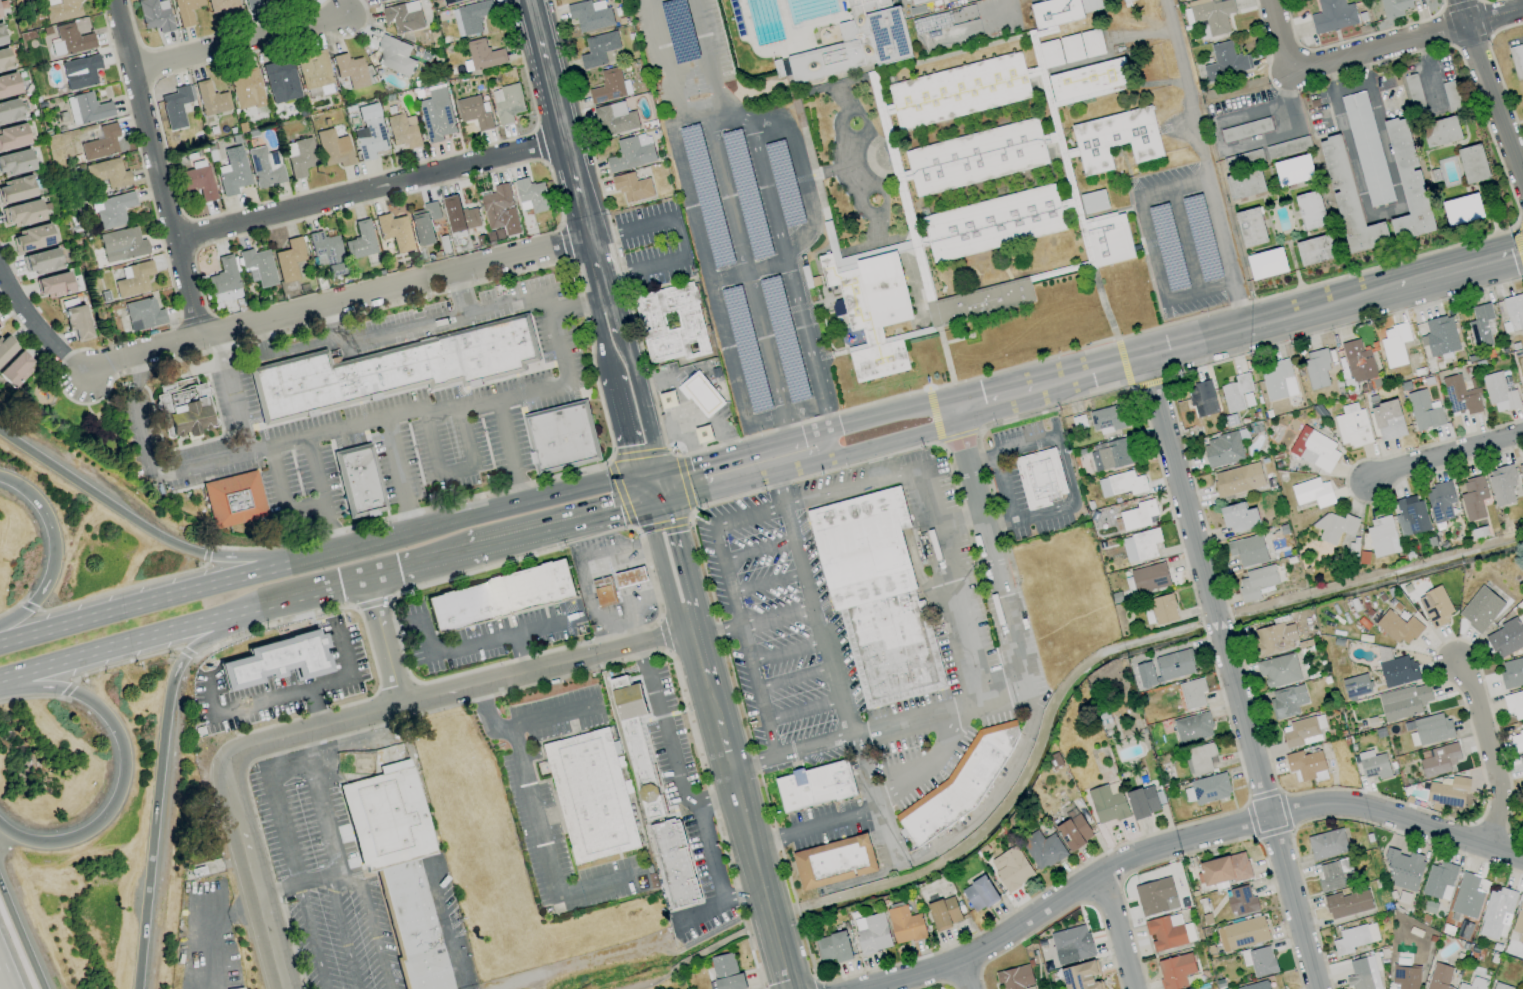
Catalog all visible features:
building: (379, 0)
road: (1476, 0)
building: (450, 1)
building: (918, 1)
building: (254, 4)
road: (1442, 4)
building: (1090, 5)
road: (1459, 5)
building: (223, 6)
building: (1394, 7)
building: (61, 10)
building: (186, 11)
building: (1055, 12)
building: (1212, 14)
building: (155, 15)
building: (590, 15)
building: (0, 16)
building: (1332, 16)
building: (403, 17)
building: (471, 17)
road: (1482, 18)
building: (932, 23)
road: (1446, 27)
road: (1280, 35)
building: (2, 36)
building: (72, 39)
road: (1347, 40)
road: (1406, 41)
road: (1470, 41)
building: (1091, 43)
building: (802, 44)
road: (239, 45)
building: (1071, 48)
building: (598, 49)
building: (1050, 53)
building: (394, 55)
building: (484, 55)
building: (5, 59)
building: (1517, 61)
road: (702, 62)
building: (1225, 62)
road: (1425, 68)
building: (314, 70)
building: (351, 70)
building: (81, 72)
road: (1316, 77)
road: (1332, 78)
building: (1088, 81)
building: (282, 82)
building: (8, 85)
building: (610, 86)
building: (247, 90)
building: (1413, 90)
building: (959, 91)
road: (1489, 94)
building: (1450, 96)
building: (211, 99)
building: (507, 103)
building: (176, 106)
building: (87, 108)
road: (693, 108)
building: (9, 111)
building: (474, 112)
building: (437, 115)
building: (615, 119)
road: (560, 122)
building: (403, 130)
building: (1246, 130)
building: (369, 132)
building: (1441, 132)
building: (13, 136)
building: (1116, 139)
building: (101, 143)
building: (1288, 147)
building: (333, 148)
road: (1235, 148)
building: (1367, 149)
building: (632, 153)
building: (299, 157)
building: (974, 158)
building: (16, 162)
road: (759, 164)
road: (1204, 164)
building: (1473, 164)
building: (265, 167)
building: (1294, 170)
road: (158, 171)
building: (233, 171)
building: (108, 173)
road: (800, 173)
building: (199, 182)
building: (783, 183)
building: (1245, 184)
building: (1408, 184)
building: (632, 187)
building: (16, 190)
road: (370, 192)
building: (746, 193)
building: (531, 196)
building: (706, 196)
building: (1349, 199)
building: (1094, 201)
road: (1401, 209)
building: (112, 210)
building: (500, 210)
building: (1310, 210)
building: (1463, 210)
building: (22, 213)
building: (460, 215)
parking lot: (741, 217)
building: (993, 223)
building: (424, 224)
building: (1250, 227)
building: (395, 232)
road: (677, 236)
building: (32, 238)
building: (1109, 239)
building: (361, 240)
road: (700, 243)
building: (122, 245)
road: (1150, 249)
building: (1316, 250)
building: (326, 251)
building: (289, 259)
road: (597, 259)
building: (41, 261)
road: (765, 264)
building: (1267, 264)
building: (258, 267)
road: (1459, 267)
road: (745, 269)
road: (728, 275)
building: (134, 279)
building: (54, 285)
building: (225, 285)
road: (604, 286)
road: (462, 301)
building: (979, 302)
road: (578, 303)
road: (337, 308)
building: (870, 309)
building: (1514, 312)
building: (144, 314)
building: (77, 321)
building: (651, 321)
road: (33, 324)
building: (1481, 326)
road: (627, 329)
road: (804, 329)
road: (333, 332)
building: (0, 333)
road: (602, 336)
road: (1222, 336)
building: (1440, 336)
building: (784, 339)
road: (390, 341)
building: (1394, 345)
building: (6, 347)
building: (745, 349)
building: (1358, 361)
building: (16, 369)
building: (1316, 369)
building: (388, 374)
building: (1520, 376)
building: (1278, 380)
building: (1500, 391)
building: (1237, 393)
building: (701, 395)
road: (234, 396)
road: (1010, 396)
building: (1460, 396)
building: (1201, 398)
building: (667, 402)
building: (1424, 411)
road: (895, 412)
building: (185, 415)
road: (401, 416)
road: (816, 418)
road: (136, 419)
road: (651, 419)
building: (1107, 419)
building: (1388, 420)
road: (605, 422)
road: (624, 426)
road: (786, 426)
building: (1352, 426)
building: (703, 436)
road: (804, 436)
road: (902, 438)
building: (566, 439)
road: (823, 445)
road: (1025, 445)
building: (1314, 449)
building: (1222, 450)
road: (511, 452)
road: (671, 453)
road: (638, 454)
road: (727, 455)
building: (1110, 455)
road: (1444, 455)
road: (801, 466)
road: (455, 469)
traffic signals: (665, 471)
building: (1521, 471)
road: (651, 473)
traffic signals: (637, 475)
road: (399, 476)
building: (1238, 479)
building: (1042, 480)
road: (883, 482)
road: (684, 483)
building: (364, 484)
building: (1121, 484)
building: (1502, 485)
road: (724, 487)
road: (1005, 488)
road: (641, 490)
building: (1313, 492)
road: (283, 494)
road: (622, 494)
road: (978, 496)
building: (1473, 498)
road: (1073, 499)
traffic signals: (673, 501)
building: (1440, 501)
road: (659, 503)
building: (240, 504)
road: (320, 504)
traffic signals: (645, 505)
road: (690, 515)
building: (1139, 515)
building: (1411, 515)
building: (1239, 518)
road: (961, 519)
road: (732, 522)
road: (661, 524)
road: (650, 526)
building: (1334, 527)
road: (559, 528)
road: (624, 528)
building: (1381, 535)
road: (682, 541)
road: (165, 542)
building: (1140, 546)
road: (758, 550)
building: (1248, 550)
road: (54, 553)
road: (317, 557)
road: (437, 562)
road: (660, 567)
road: (583, 570)
road: (726, 576)
road: (384, 577)
building: (631, 578)
gas station: (631, 578)
building: (1149, 578)
road: (766, 582)
building: (1256, 582)
building: (605, 595)
building: (876, 595)
building: (499, 598)
road: (640, 599)
road: (670, 604)
building: (1435, 607)
road: (734, 609)
building: (1480, 609)
building: (1159, 610)
road: (959, 614)
road: (776, 618)
road: (688, 621)
road: (183, 626)
building: (1398, 628)
road: (714, 629)
road: (631, 633)
road: (664, 637)
building: (1506, 637)
building: (1273, 639)
road: (386, 642)
road: (482, 643)
road: (1017, 643)
road: (743, 645)
road: (521, 653)
road: (786, 653)
building: (276, 662)
building: (1175, 665)
road: (832, 670)
building: (1278, 670)
building: (1398, 671)
building: (1512, 673)
road: (520, 674)
building: (1145, 674)
road: (1228, 674)
road: (793, 680)
building: (1356, 686)
building: (1192, 693)
road: (287, 699)
road: (710, 701)
building: (1287, 701)
building: (1404, 702)
building: (1514, 704)
road: (315, 710)
road: (490, 711)
road: (759, 711)
road: (802, 712)
road: (360, 715)
road: (551, 718)
building: (1320, 724)
building: (1192, 727)
building: (1432, 729)
road: (878, 730)
building: (1301, 733)
building: (1517, 740)
road: (1489, 755)
building: (1200, 759)
building: (1438, 759)
road: (160, 762)
building: (1521, 762)
building: (1305, 765)
building: (1373, 765)
road: (123, 769)
road: (280, 769)
road: (676, 776)
building: (959, 784)
building: (814, 786)
building: (1207, 789)
building: (1448, 792)
building: (657, 794)
road: (989, 797)
building: (596, 799)
building: (1142, 802)
road: (716, 803)
road: (323, 804)
building: (1106, 805)
road: (876, 809)
road: (237, 826)
building: (1074, 832)
road: (1186, 839)
building: (1327, 844)
building: (1043, 849)
road: (543, 856)
building: (834, 861)
building: (398, 867)
building: (1011, 868)
building: (1224, 869)
building: (1404, 869)
building: (1333, 875)
building: (1438, 879)
road: (757, 880)
road: (293, 886)
building: (979, 894)
building: (1468, 896)
road: (741, 897)
building: (1155, 897)
building: (1241, 901)
building: (1347, 903)
building: (944, 913)
building: (1497, 913)
road: (696, 920)
road: (372, 921)
building: (1519, 922)
building: (905, 924)
road: (208, 927)
road: (448, 929)
road: (344, 932)
road: (1112, 932)
building: (1169, 932)
building: (872, 933)
building: (1242, 933)
road: (21, 936)
road: (312, 937)
building: (1354, 938)
building: (1072, 945)
building: (833, 947)
building: (1259, 961)
road: (578, 963)
building: (1175, 971)
building: (726, 973)
road: (5, 974)
building: (1363, 974)
road: (963, 976)
building: (1082, 976)
building: (1405, 977)
building: (1439, 977)
building: (1014, 978)
building: (1474, 984)
building: (1255, 986)
building: (1500, 986)
building: (1191, 988)

